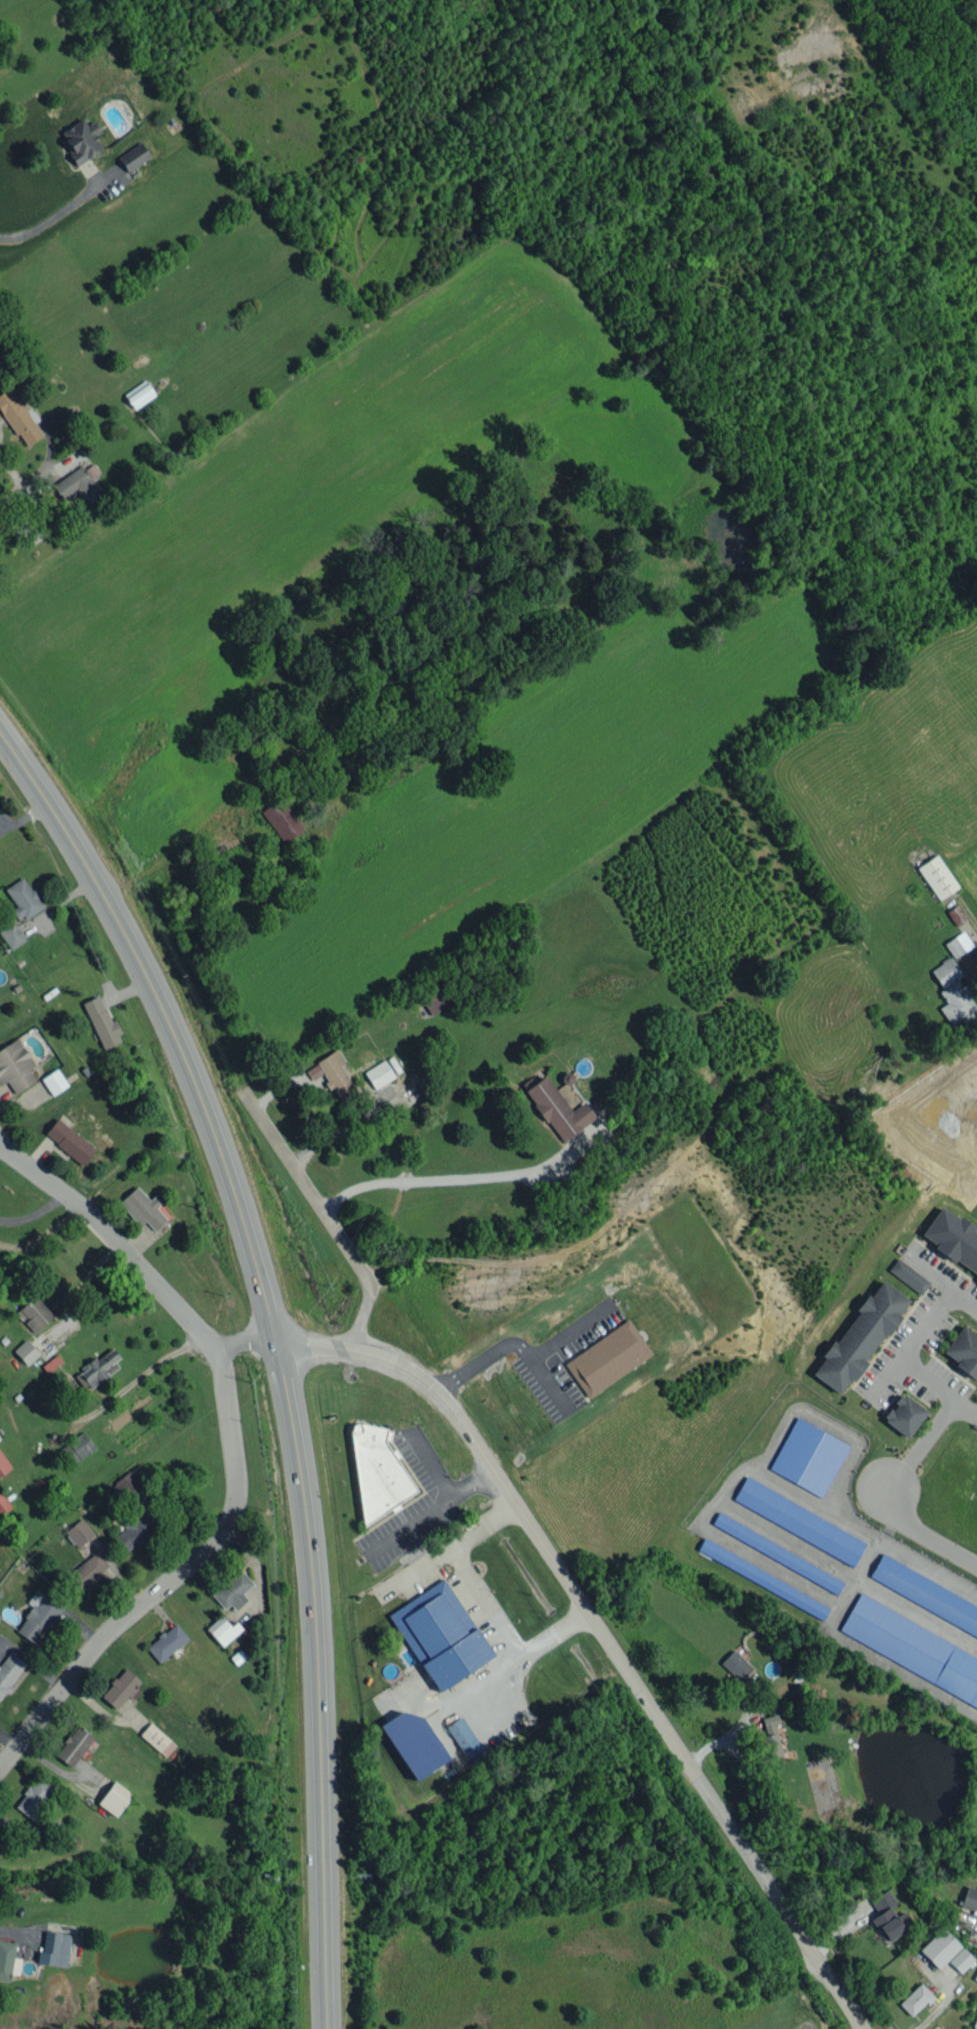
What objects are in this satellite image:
building: (81, 140)
building: (133, 156)
road: (51, 219)
building: (0, 358)
building: (139, 394)
building: (18, 417)
building: (77, 485)
road: (36, 505)
building: (282, 820)
building: (937, 876)
building: (23, 898)
building: (11, 934)
building: (958, 944)
building: (953, 993)
building: (435, 998)
building: (102, 1022)
building: (15, 1065)
building: (332, 1073)
building: (378, 1073)
building: (54, 1081)
building: (558, 1109)
road: (336, 1131)
building: (69, 1141)
road: (456, 1178)
building: (141, 1208)
road: (33, 1213)
road: (329, 1218)
road: (112, 1238)
building: (953, 1238)
building: (908, 1275)
road: (74, 1292)
building: (34, 1313)
road: (565, 1330)
building: (860, 1336)
road: (912, 1338)
road: (507, 1339)
road: (245, 1344)
road: (277, 1349)
building: (963, 1350)
building: (25, 1351)
building: (608, 1358)
building: (100, 1367)
road: (961, 1410)
building: (904, 1415)
building: (74, 1449)
building: (3, 1464)
road: (428, 1464)
building: (377, 1472)
building: (3, 1503)
road: (884, 1503)
road: (430, 1508)
building: (798, 1521)
building: (134, 1531)
building: (79, 1532)
building: (777, 1552)
building: (87, 1570)
road: (171, 1578)
building: (763, 1578)
building: (232, 1590)
building: (925, 1594)
road: (483, 1599)
building: (38, 1616)
building: (222, 1630)
building: (439, 1636)
road: (604, 1636)
building: (166, 1642)
building: (912, 1647)
building: (9, 1670)
building: (120, 1688)
building: (770, 1737)
building: (464, 1738)
building: (157, 1739)
road: (726, 1739)
building: (413, 1742)
building: (73, 1745)
building: (33, 1796)
building: (114, 1798)
building: (969, 1899)
building: (887, 1916)
building: (939, 1947)
building: (54, 1948)
building: (960, 1959)
building: (8, 1960)
building: (975, 1976)
building: (915, 1999)
building: (975, 2022)

